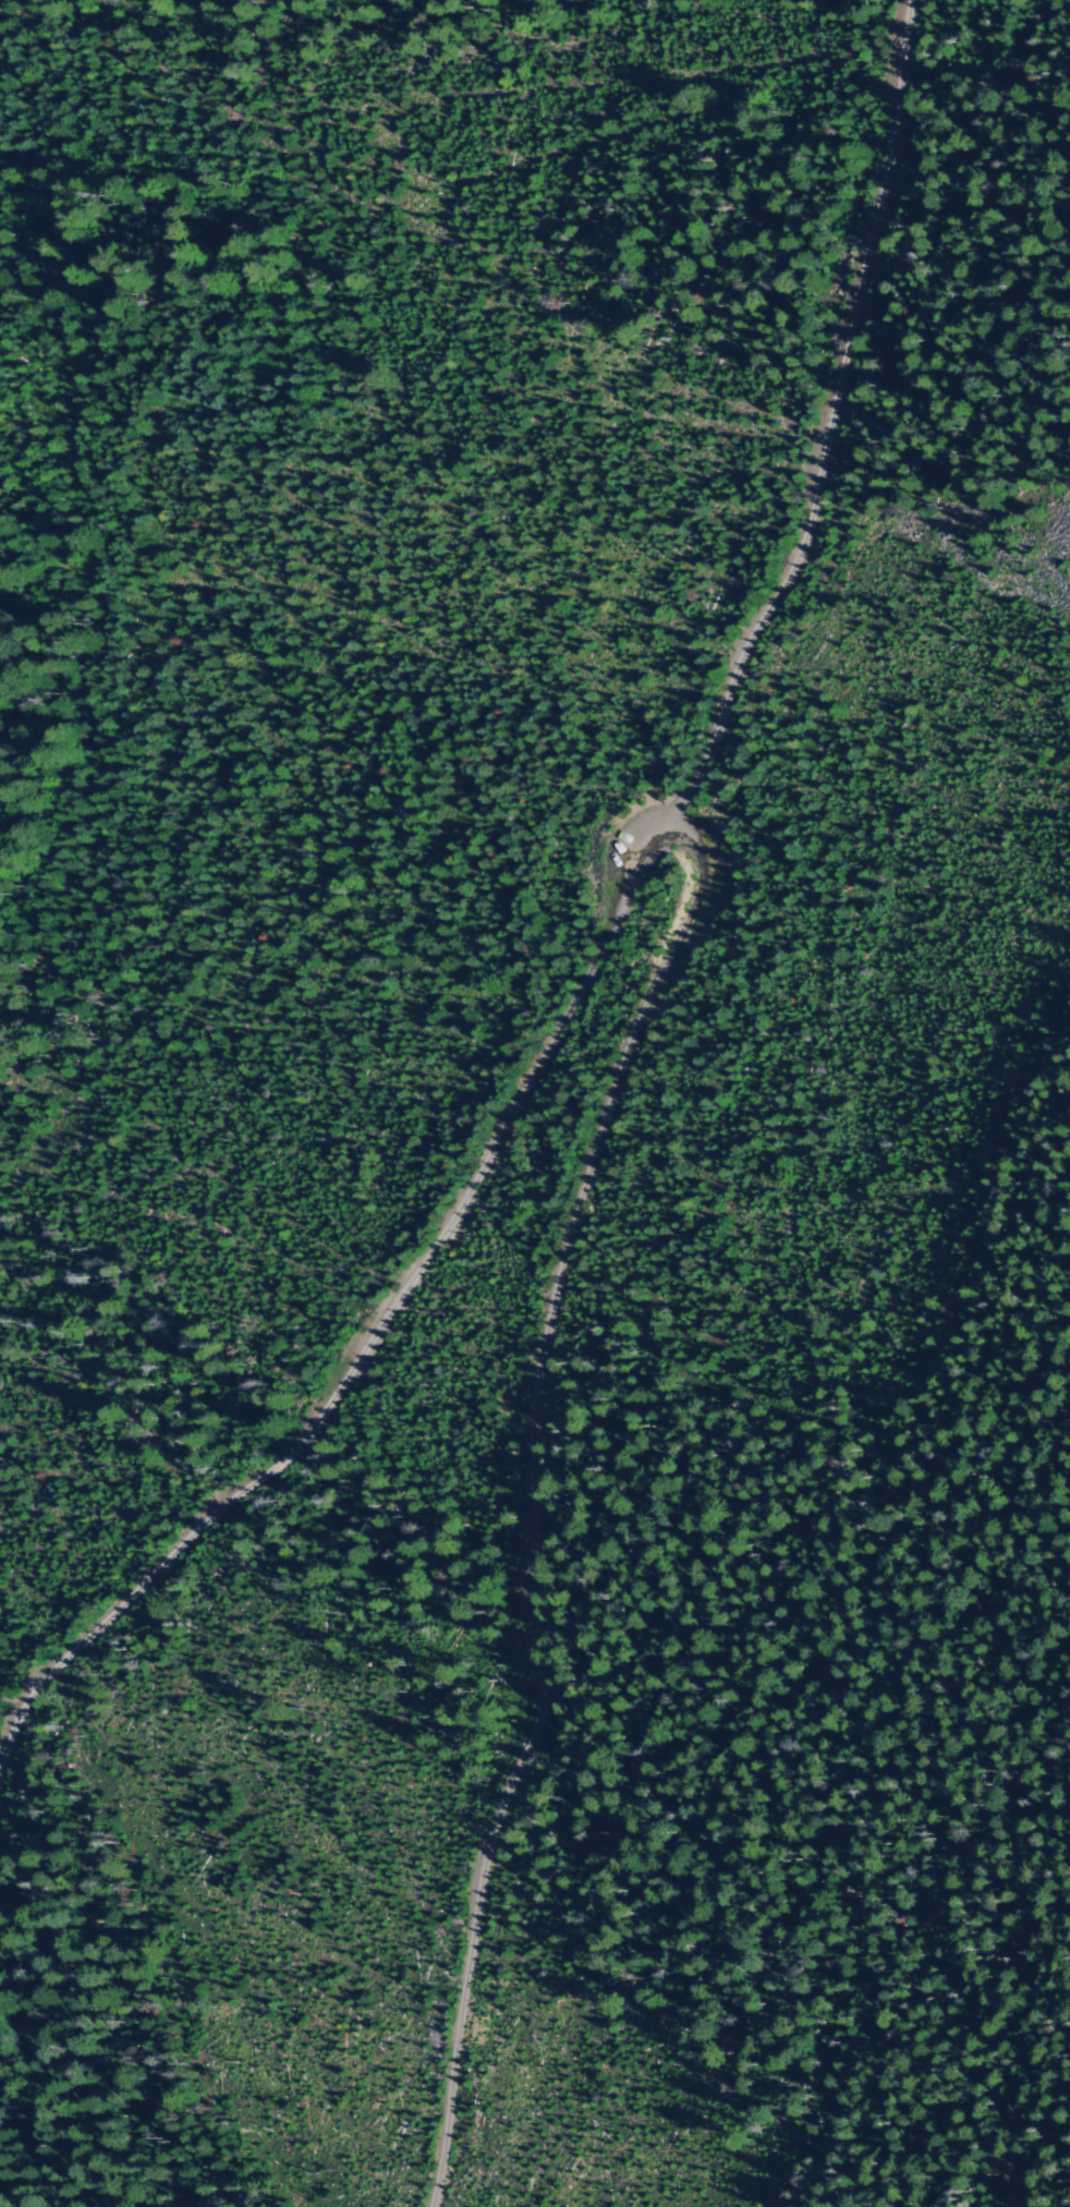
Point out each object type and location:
road: (596, 957)
road: (535, 1501)

